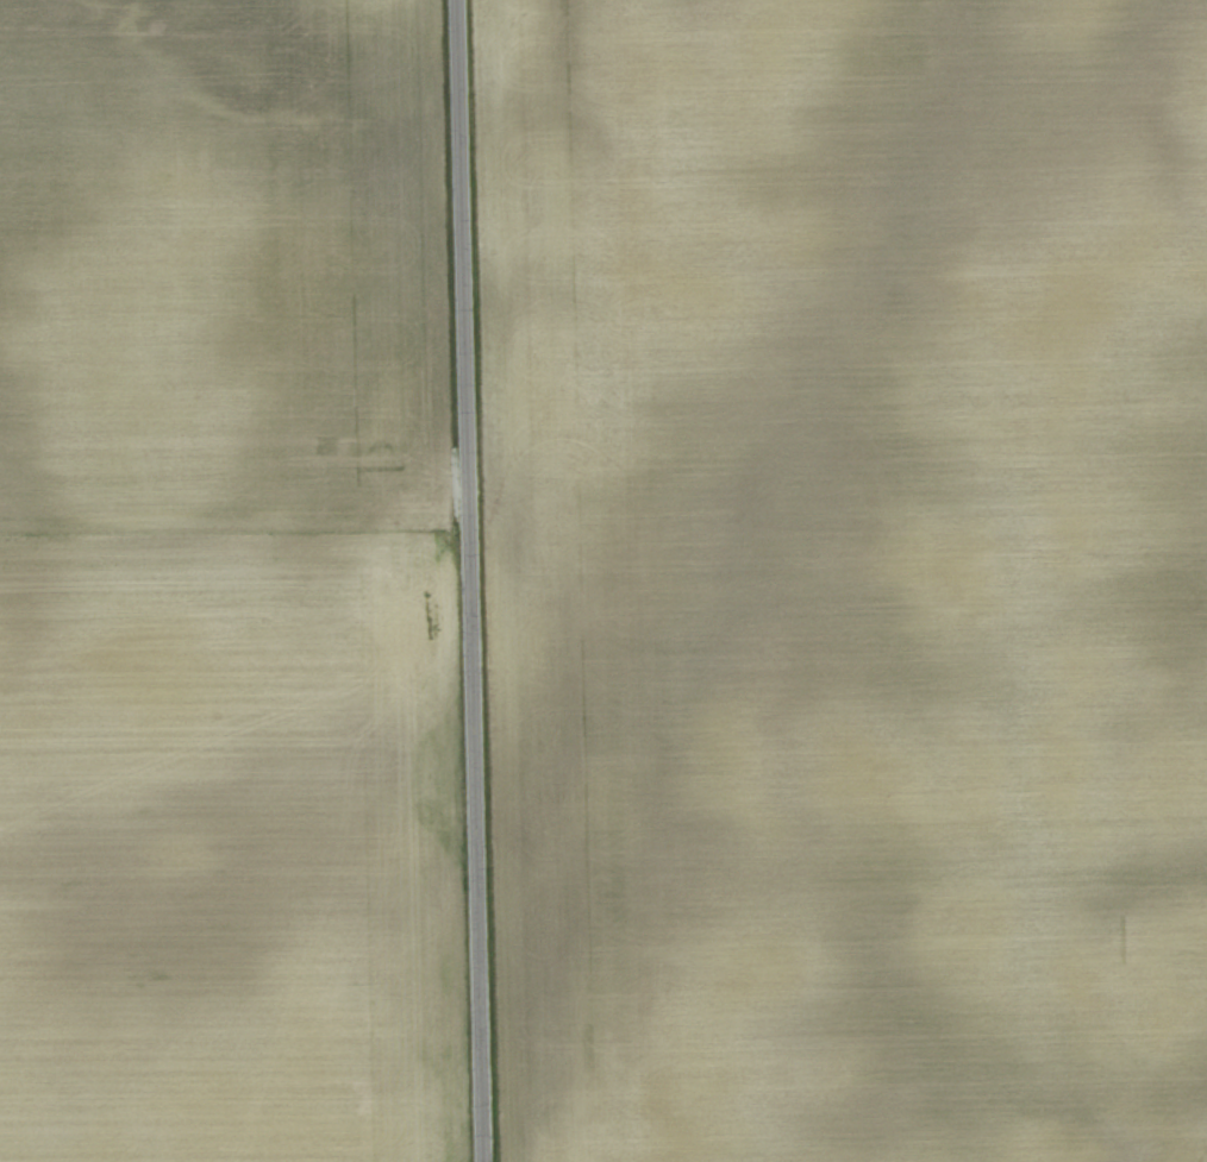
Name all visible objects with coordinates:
road: (470, 580)

